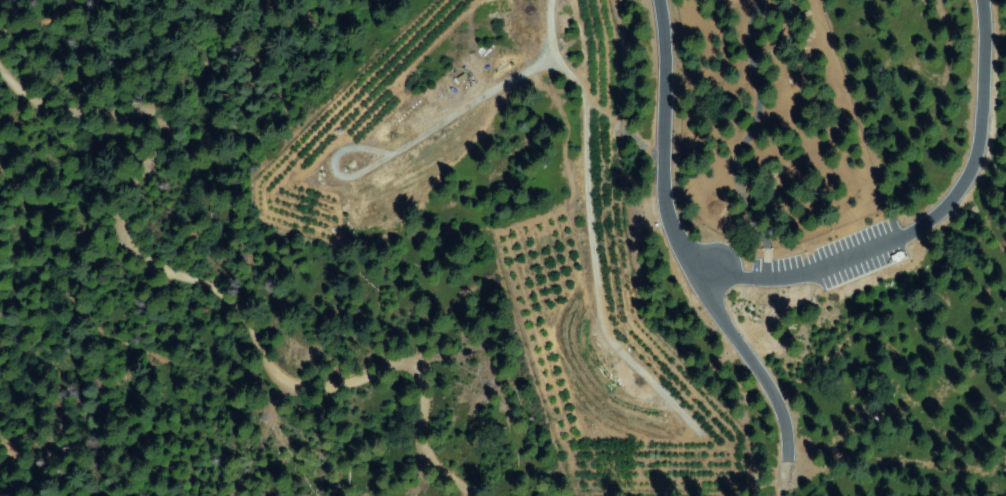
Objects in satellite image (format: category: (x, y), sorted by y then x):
road: (249, 344)

